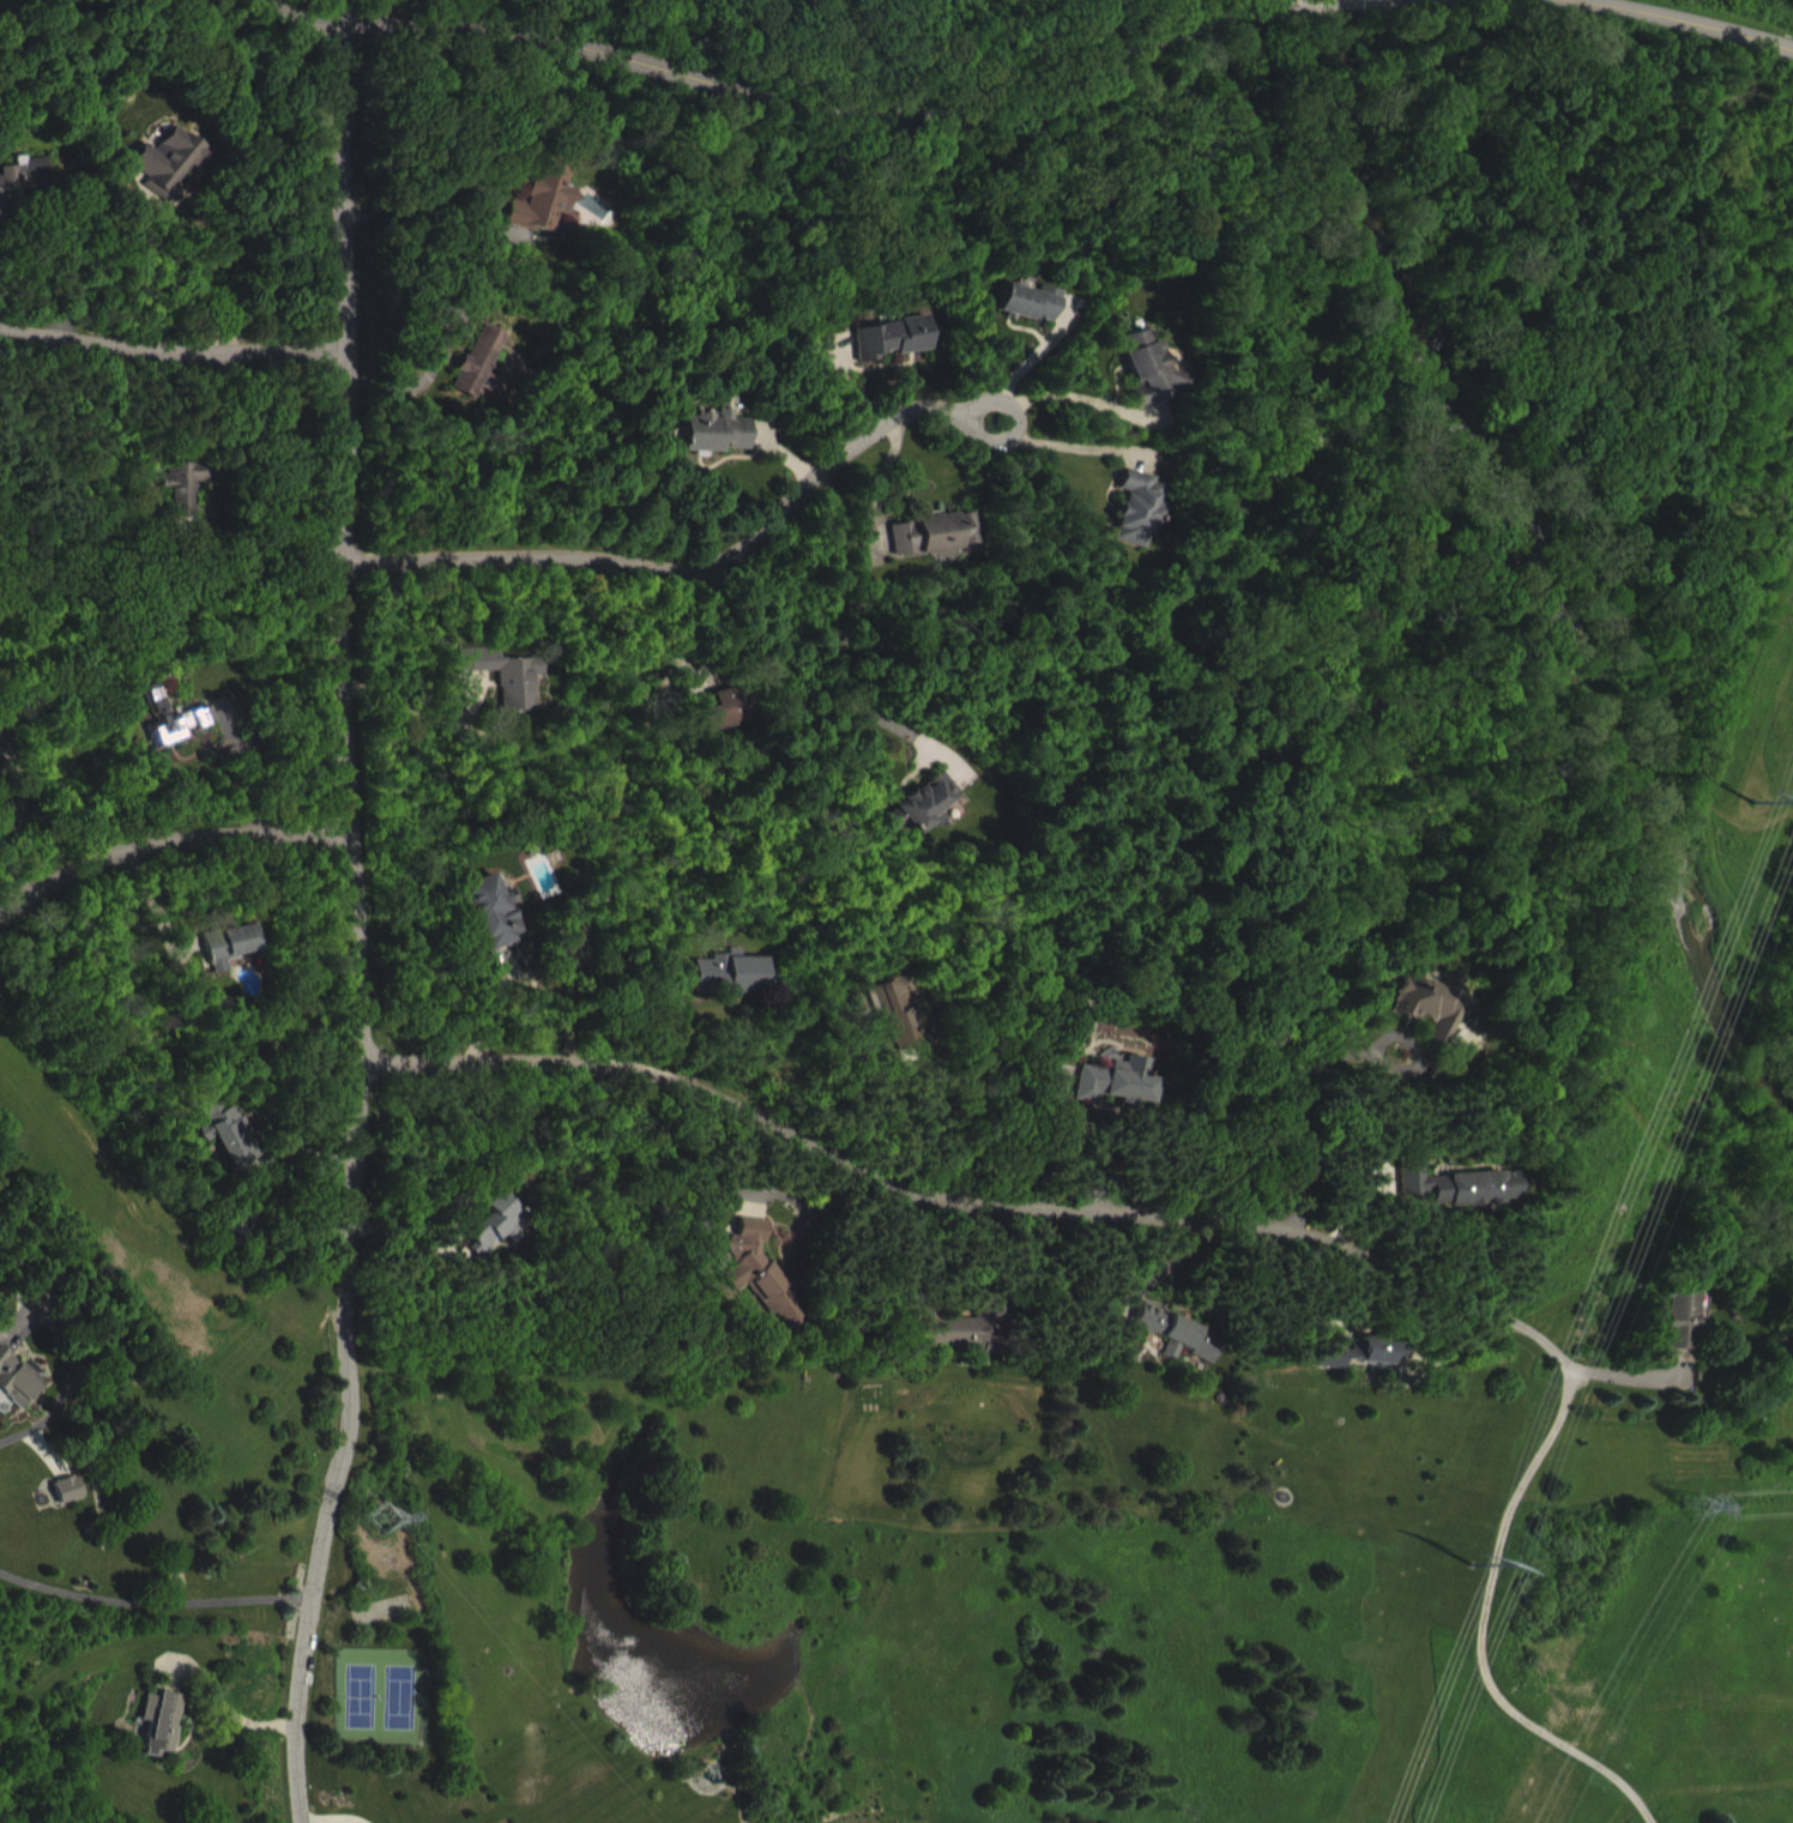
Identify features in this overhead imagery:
road: (442, 11)
road: (1695, 19)
road: (774, 95)
building: (171, 179)
road: (425, 195)
building: (26, 198)
building: (548, 216)
road: (64, 246)
road: (200, 258)
building: (1034, 318)
road: (171, 349)
building: (894, 355)
road: (418, 376)
building: (483, 379)
building: (1148, 385)
road: (1076, 415)
building: (718, 448)
building: (189, 503)
building: (1134, 525)
building: (937, 549)
road: (274, 553)
road: (693, 569)
road: (839, 636)
building: (511, 692)
road: (418, 716)
building: (729, 725)
building: (180, 736)
road: (243, 766)
power tower: (1752, 802)
road: (22, 814)
building: (926, 821)
road: (169, 837)
road: (606, 871)
road: (356, 923)
building: (499, 928)
building: (236, 961)
road: (519, 971)
building: (735, 989)
building: (1430, 1021)
road: (680, 1025)
building: (902, 1026)
road: (843, 1058)
building: (1121, 1098)
road: (1286, 1116)
building: (235, 1147)
road: (1081, 1147)
road: (255, 1199)
road: (958, 1201)
building: (1465, 1201)
road: (810, 1205)
building: (500, 1238)
road: (407, 1242)
road: (1135, 1285)
building: (765, 1288)
building: (1688, 1333)
building: (965, 1350)
building: (1184, 1351)
road: (548, 1369)
building: (1375, 1371)
road: (61, 1377)
building: (22, 1393)
power tower: (1706, 1501)
building: (73, 1505)
power tower: (375, 1516)
power tower: (1492, 1527)
road: (153, 1599)
road: (1485, 1618)
park: (367, 1690)
building: (167, 1738)
road: (330, 1817)

